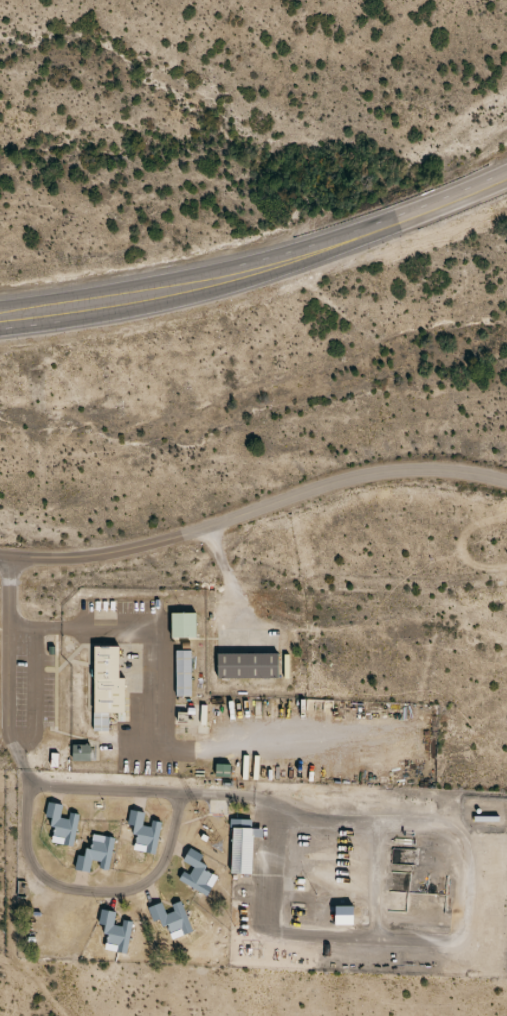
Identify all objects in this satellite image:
road: (289, 257)
road: (31, 311)
road: (253, 510)
building: (190, 618)
building: (180, 625)
building: (254, 659)
building: (189, 668)
building: (180, 673)
building: (113, 681)
road: (33, 691)
road: (153, 741)
building: (88, 749)
building: (78, 753)
building: (60, 756)
building: (220, 771)
road: (32, 776)
building: (68, 820)
building: (59, 826)
building: (150, 827)
building: (141, 832)
building: (249, 843)
building: (102, 848)
building: (203, 867)
building: (194, 874)
road: (85, 891)
building: (351, 909)
building: (180, 912)
building: (168, 918)
building: (123, 924)
building: (112, 933)
road: (461, 936)

